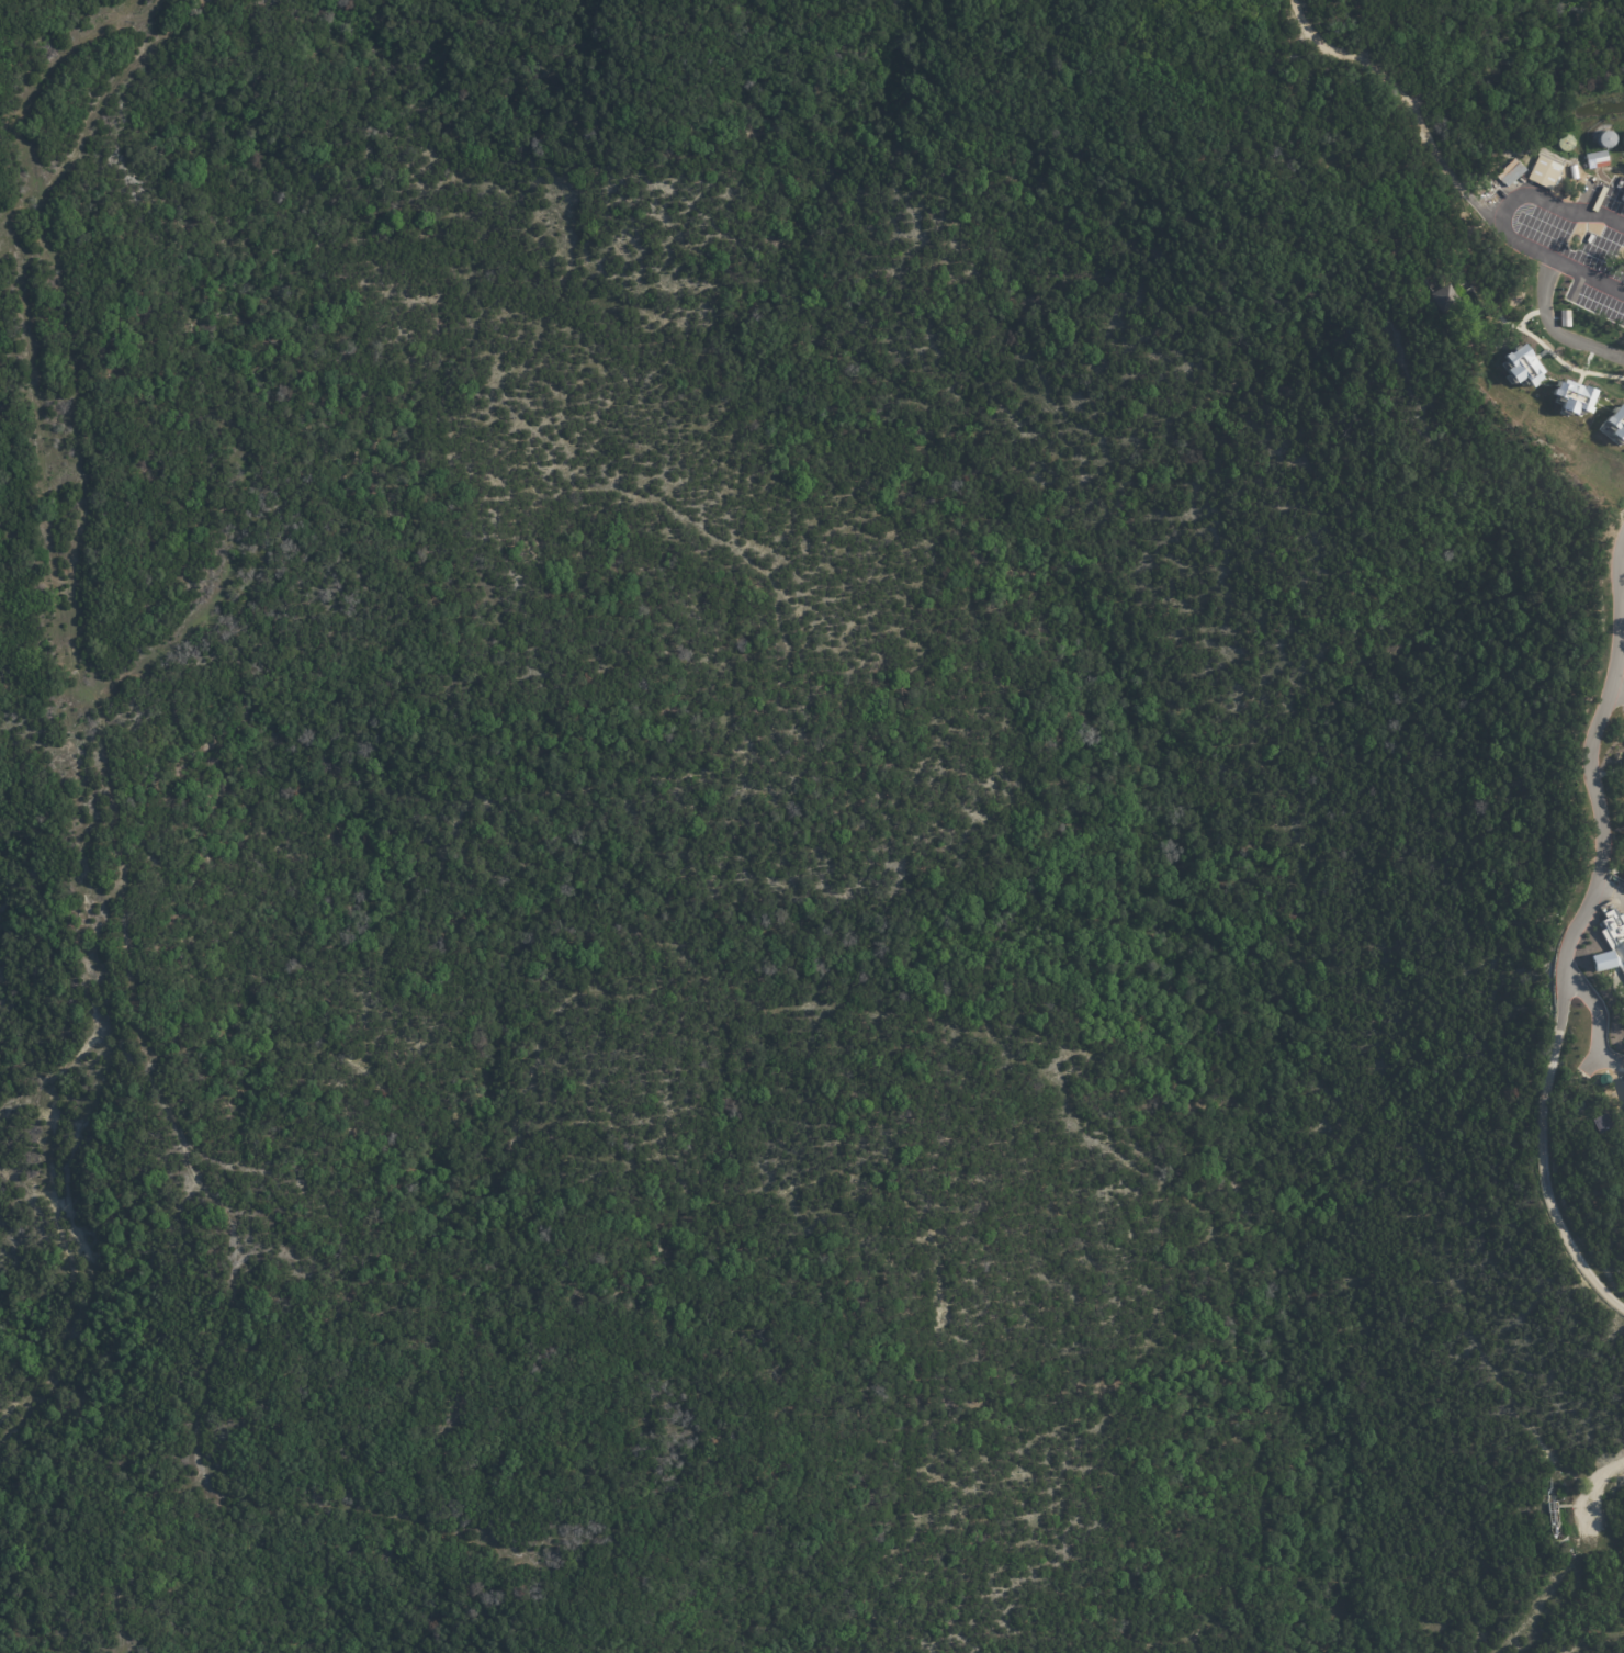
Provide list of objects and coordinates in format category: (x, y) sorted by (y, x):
building: (1598, 161)
road: (1555, 236)
building: (1446, 302)
building: (1566, 321)
road: (1552, 325)
road: (1615, 704)
road: (1611, 751)
road: (1578, 927)
building: (1616, 936)
road: (1595, 1013)
building: (1604, 1126)
road: (1568, 1563)

